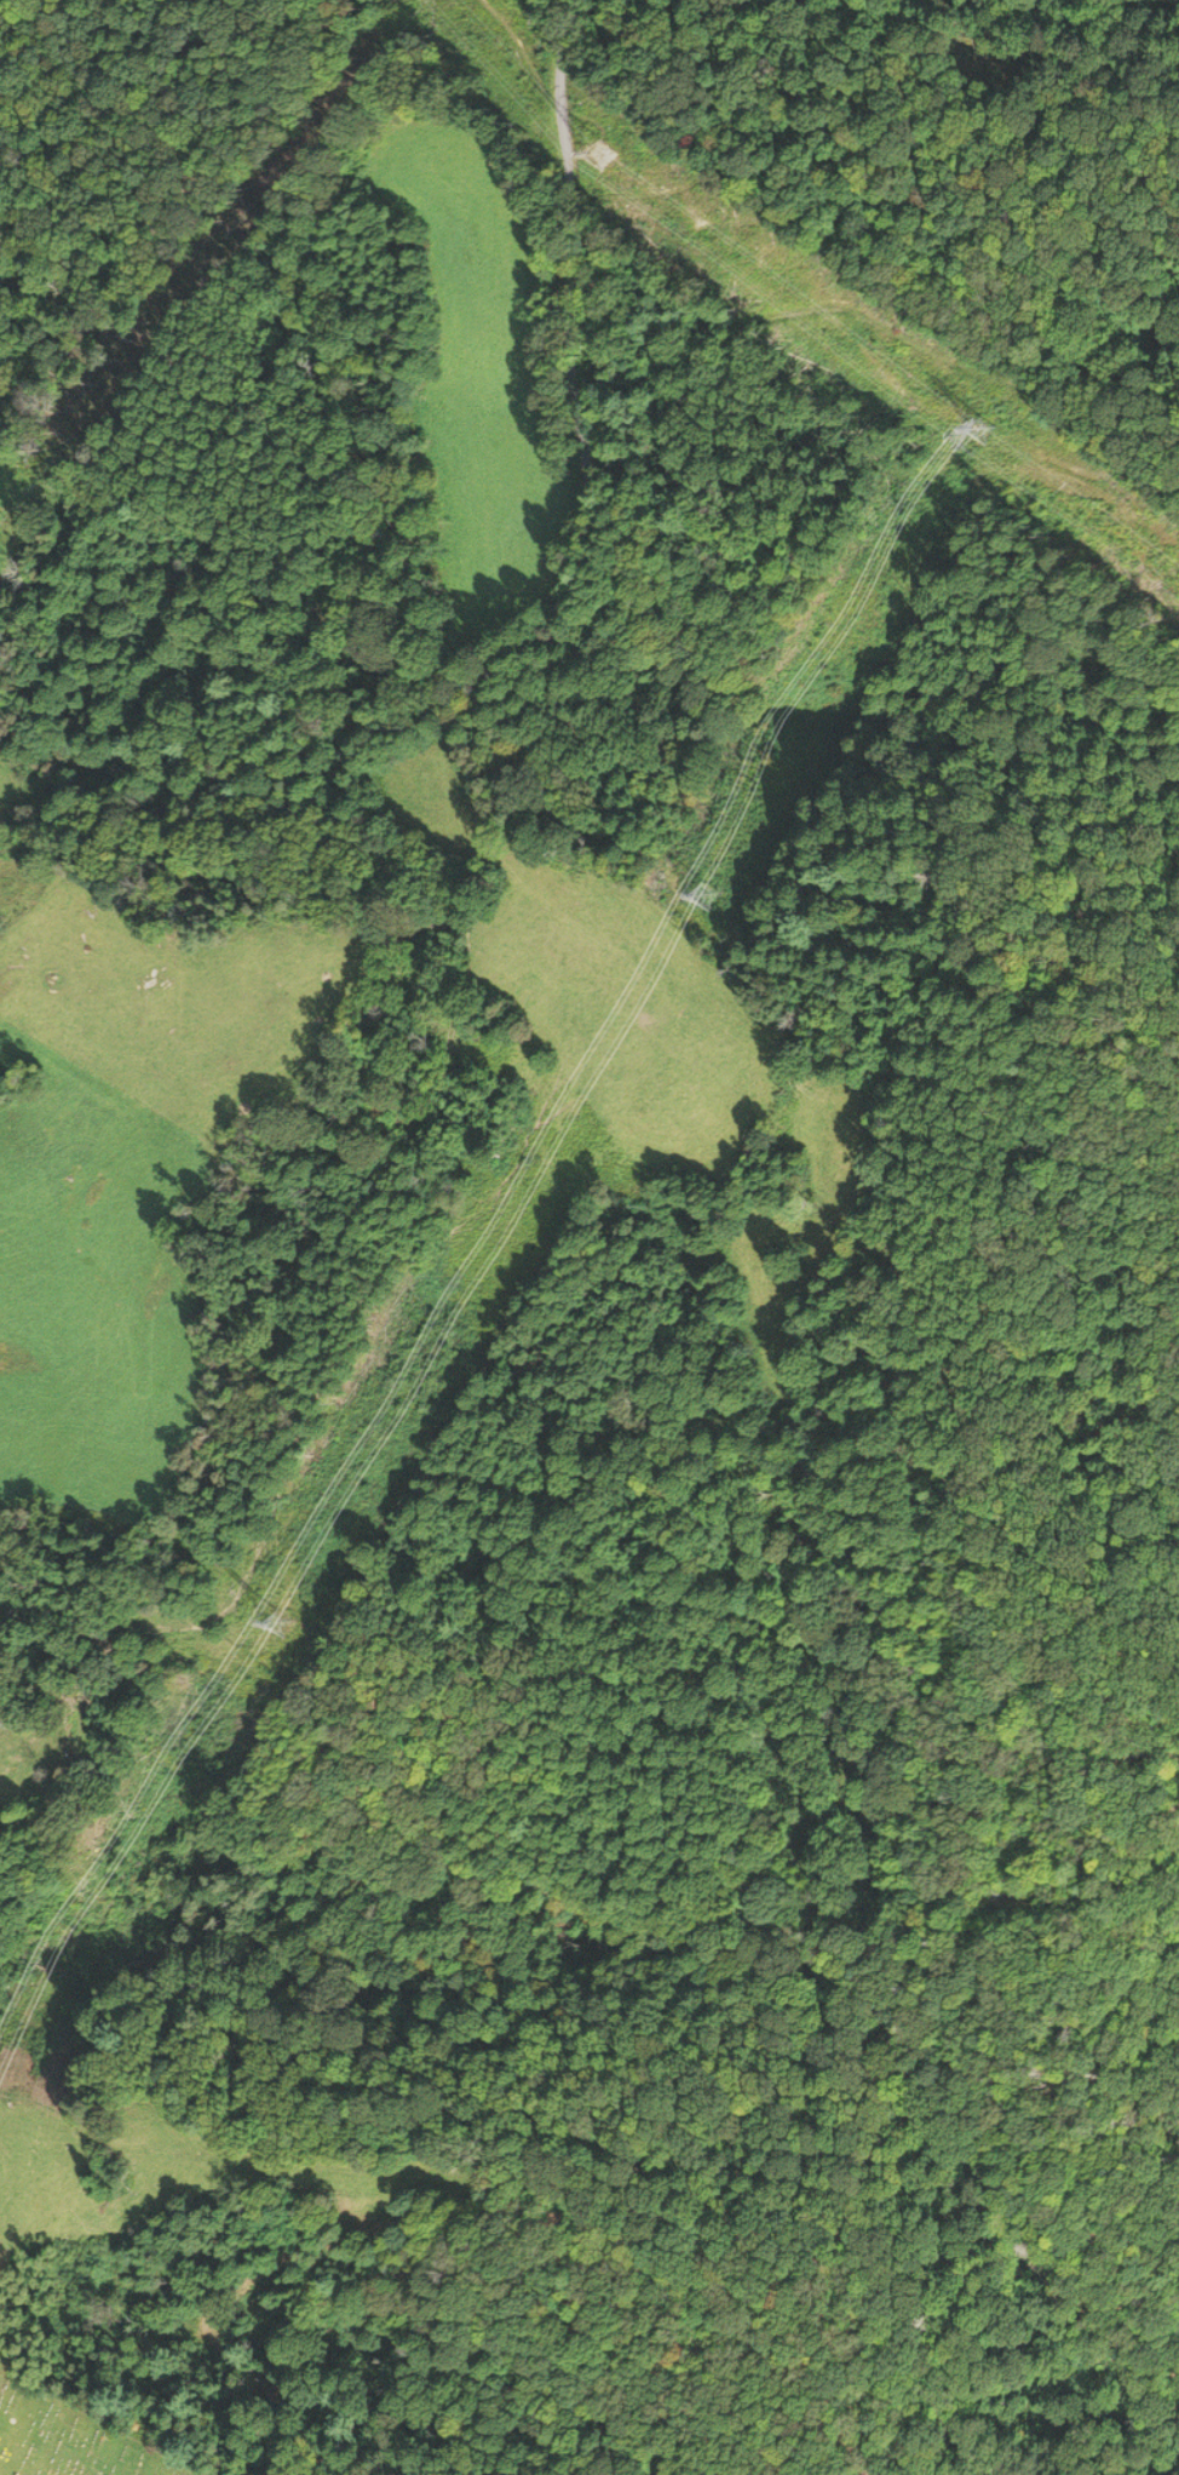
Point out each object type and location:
power tower: (620, 157)
power tower: (990, 430)
road: (560, 594)
power tower: (718, 895)
power tower: (288, 1616)

